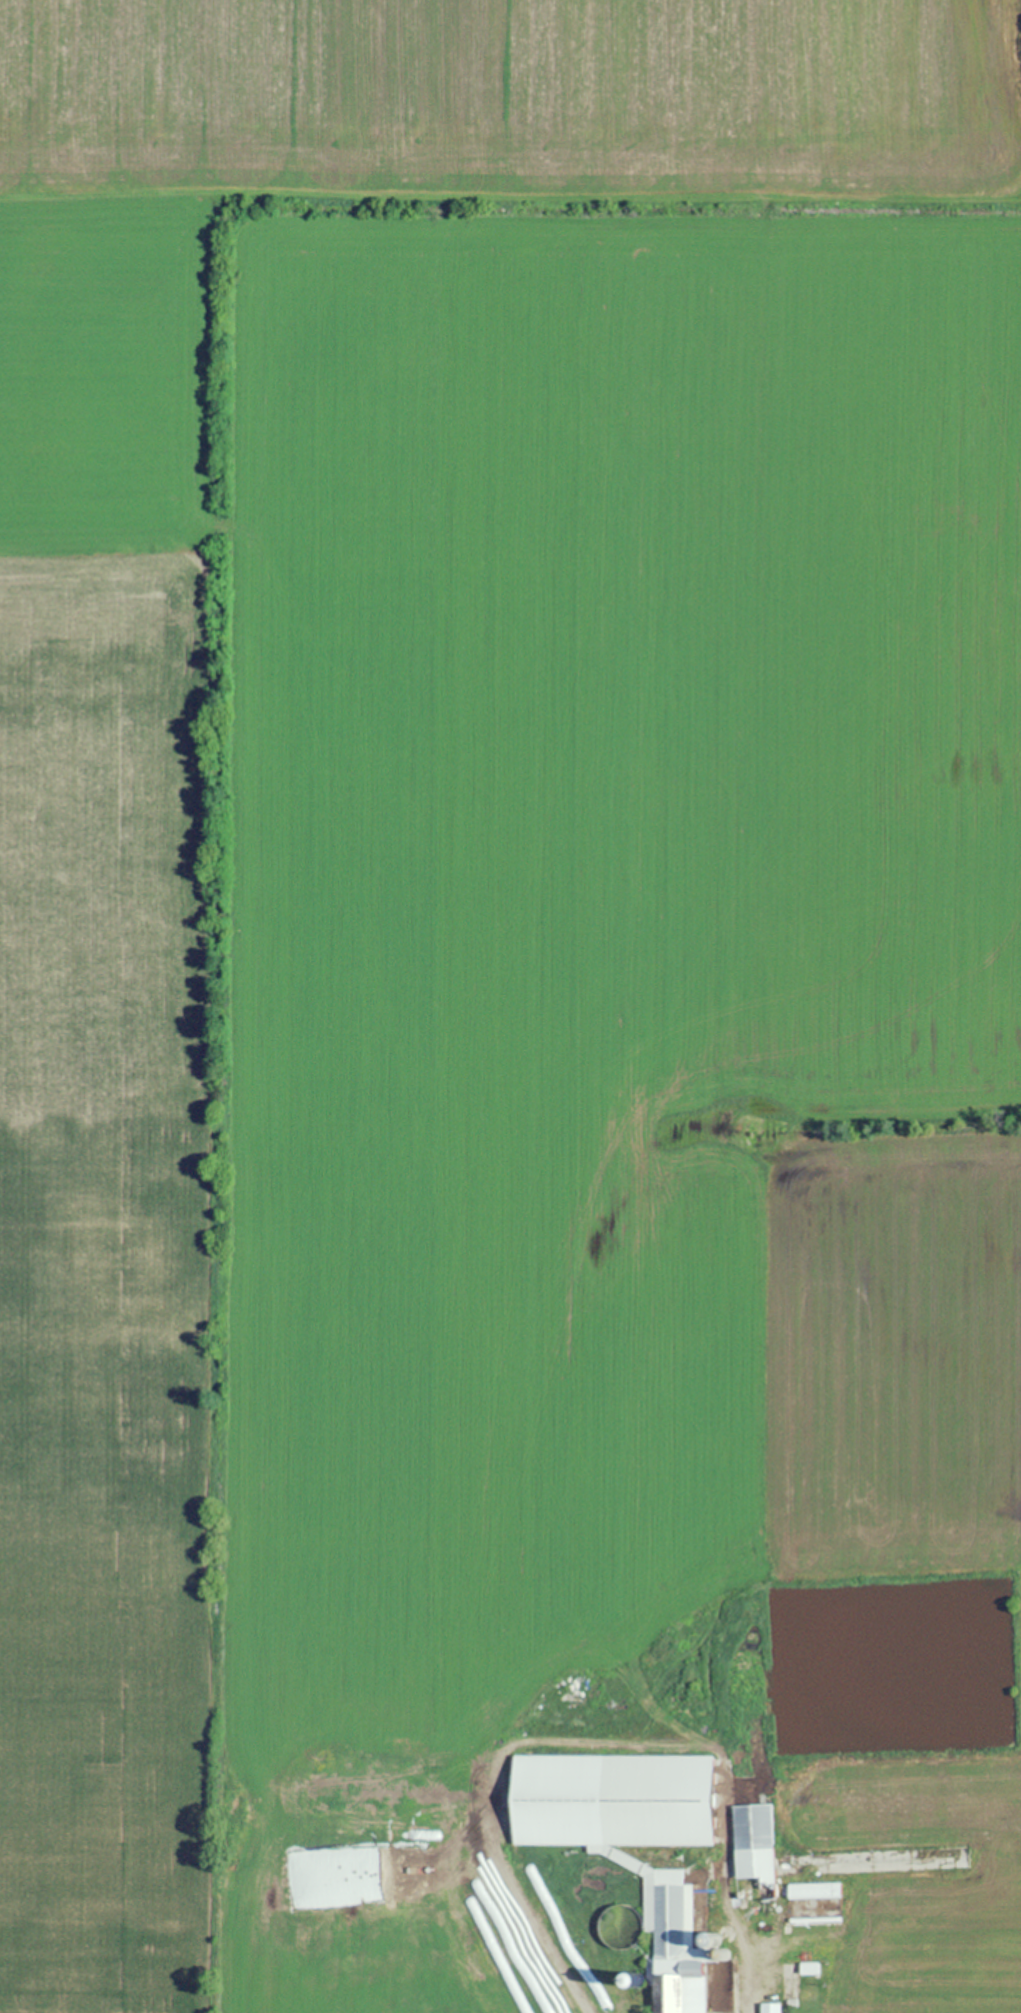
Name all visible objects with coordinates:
building: (631, 1843)
building: (753, 1851)
building: (813, 1890)
building: (617, 1925)
road: (743, 1971)
building: (316, 1984)
building: (384, 1984)
building: (454, 1985)
building: (769, 2007)

